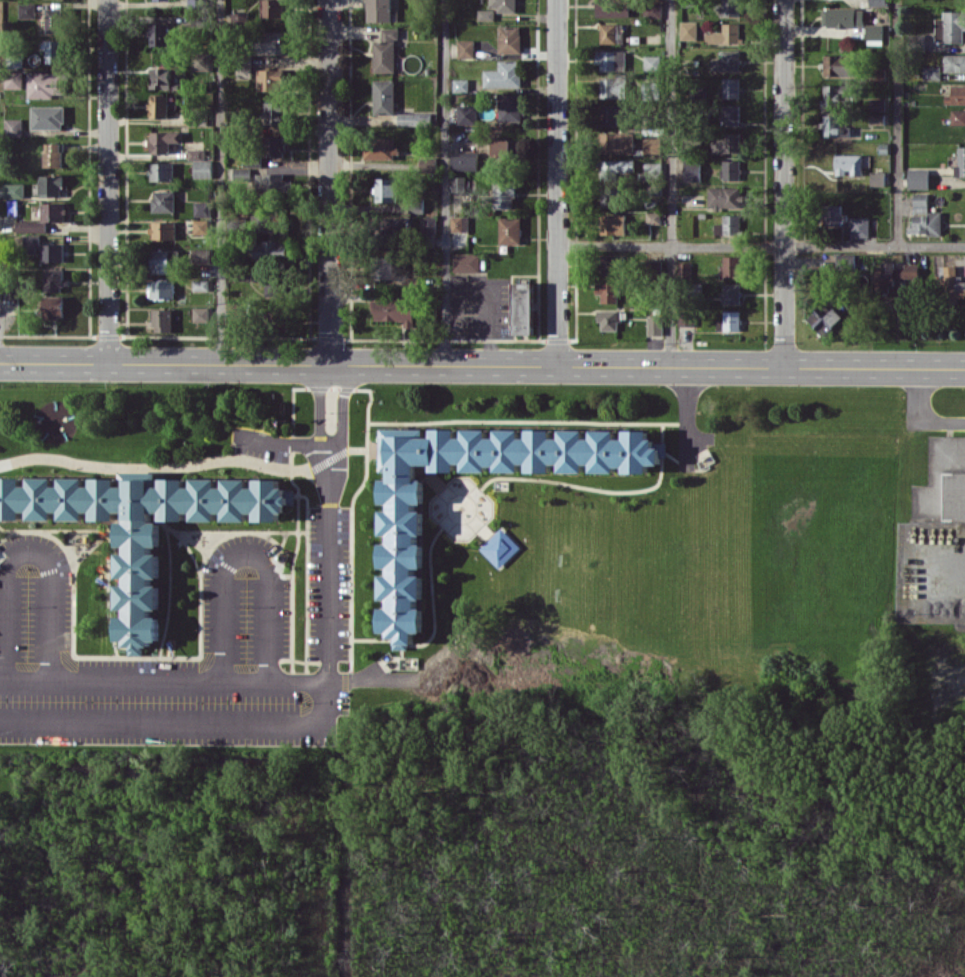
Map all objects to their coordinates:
building: (612, 7)
building: (729, 7)
building: (272, 8)
building: (496, 8)
building: (653, 9)
building: (27, 10)
building: (379, 10)
building: (842, 17)
building: (55, 20)
building: (950, 26)
building: (688, 30)
building: (874, 31)
building: (159, 33)
building: (611, 33)
building: (725, 34)
building: (509, 39)
building: (270, 42)
building: (465, 48)
building: (54, 50)
building: (385, 51)
building: (611, 60)
building: (727, 61)
building: (652, 62)
building: (954, 62)
building: (838, 65)
building: (932, 72)
building: (504, 74)
building: (876, 74)
building: (161, 77)
building: (270, 79)
building: (13, 80)
building: (45, 84)
building: (461, 85)
building: (613, 86)
building: (730, 87)
building: (835, 94)
building: (956, 95)
building: (384, 96)
building: (877, 104)
building: (158, 106)
building: (510, 107)
building: (276, 112)
building: (467, 114)
building: (611, 114)
building: (730, 114)
building: (958, 116)
building: (48, 117)
building: (415, 118)
building: (876, 118)
road: (896, 123)
building: (835, 125)
building: (14, 127)
building: (163, 140)
building: (616, 142)
building: (725, 142)
building: (275, 145)
building: (652, 145)
building: (380, 148)
building: (505, 148)
building: (54, 154)
building: (196, 154)
building: (465, 160)
building: (960, 162)
building: (848, 164)
building: (203, 168)
building: (615, 168)
building: (653, 169)
building: (731, 169)
building: (692, 170)
building: (161, 171)
building: (242, 176)
building: (877, 178)
building: (918, 178)
road: (108, 181)
road: (221, 182)
building: (272, 182)
road: (329, 182)
road: (557, 182)
road: (445, 183)
building: (459, 183)
road: (670, 183)
road: (783, 184)
building: (51, 185)
building: (385, 189)
building: (14, 190)
building: (504, 192)
building: (608, 197)
building: (725, 197)
building: (163, 200)
building: (920, 202)
building: (201, 208)
building: (833, 213)
building: (653, 217)
building: (43, 218)
building: (272, 222)
building: (397, 223)
building: (459, 223)
building: (925, 223)
building: (428, 224)
building: (612, 224)
building: (728, 225)
building: (859, 226)
building: (201, 227)
building: (163, 229)
building: (510, 230)
building: (31, 240)
road: (761, 245)
building: (271, 250)
building: (52, 252)
building: (201, 255)
building: (164, 260)
building: (845, 260)
building: (466, 262)
building: (610, 265)
building: (731, 265)
building: (385, 267)
building: (684, 270)
building: (911, 270)
building: (886, 275)
building: (55, 279)
building: (200, 284)
building: (951, 284)
building: (162, 289)
building: (607, 291)
building: (731, 292)
building: (53, 307)
building: (523, 308)
building: (394, 311)
building: (201, 314)
building: (824, 318)
building: (162, 319)
building: (607, 319)
building: (729, 321)
building: (654, 325)
road: (491, 326)
road: (482, 366)
road: (342, 405)
road: (319, 406)
road: (686, 418)
road: (919, 418)
road: (526, 420)
road: (662, 433)
road: (280, 442)
road: (193, 463)
road: (686, 465)
road: (485, 482)
road: (351, 520)
road: (297, 522)
building: (142, 524)
road: (53, 529)
road: (206, 530)
road: (280, 531)
road: (178, 532)
road: (8, 533)
road: (98, 538)
building: (401, 538)
building: (500, 547)
road: (190, 551)
road: (27, 552)
road: (271, 552)
road: (2, 553)
road: (245, 558)
road: (275, 559)
parking lot: (328, 582)
road: (306, 584)
road: (169, 590)
road: (108, 591)
road: (376, 627)
road: (371, 638)
road: (122, 646)
road: (401, 651)
road: (160, 657)
road: (297, 660)
parking lot: (159, 661)
road: (385, 680)
road: (191, 681)
road: (301, 723)

